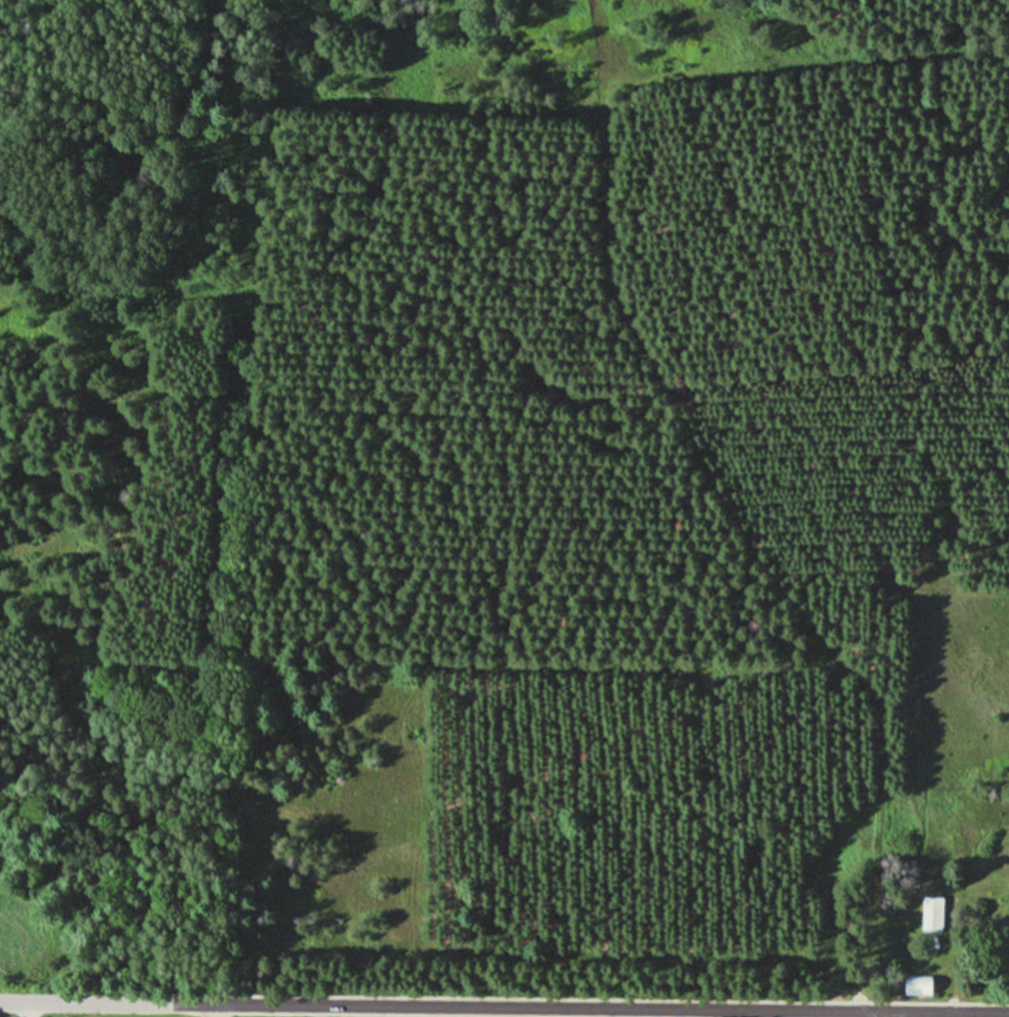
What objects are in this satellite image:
building: (930, 915)
building: (914, 986)
road: (504, 1006)
road: (27, 1009)
road: (875, 1013)

